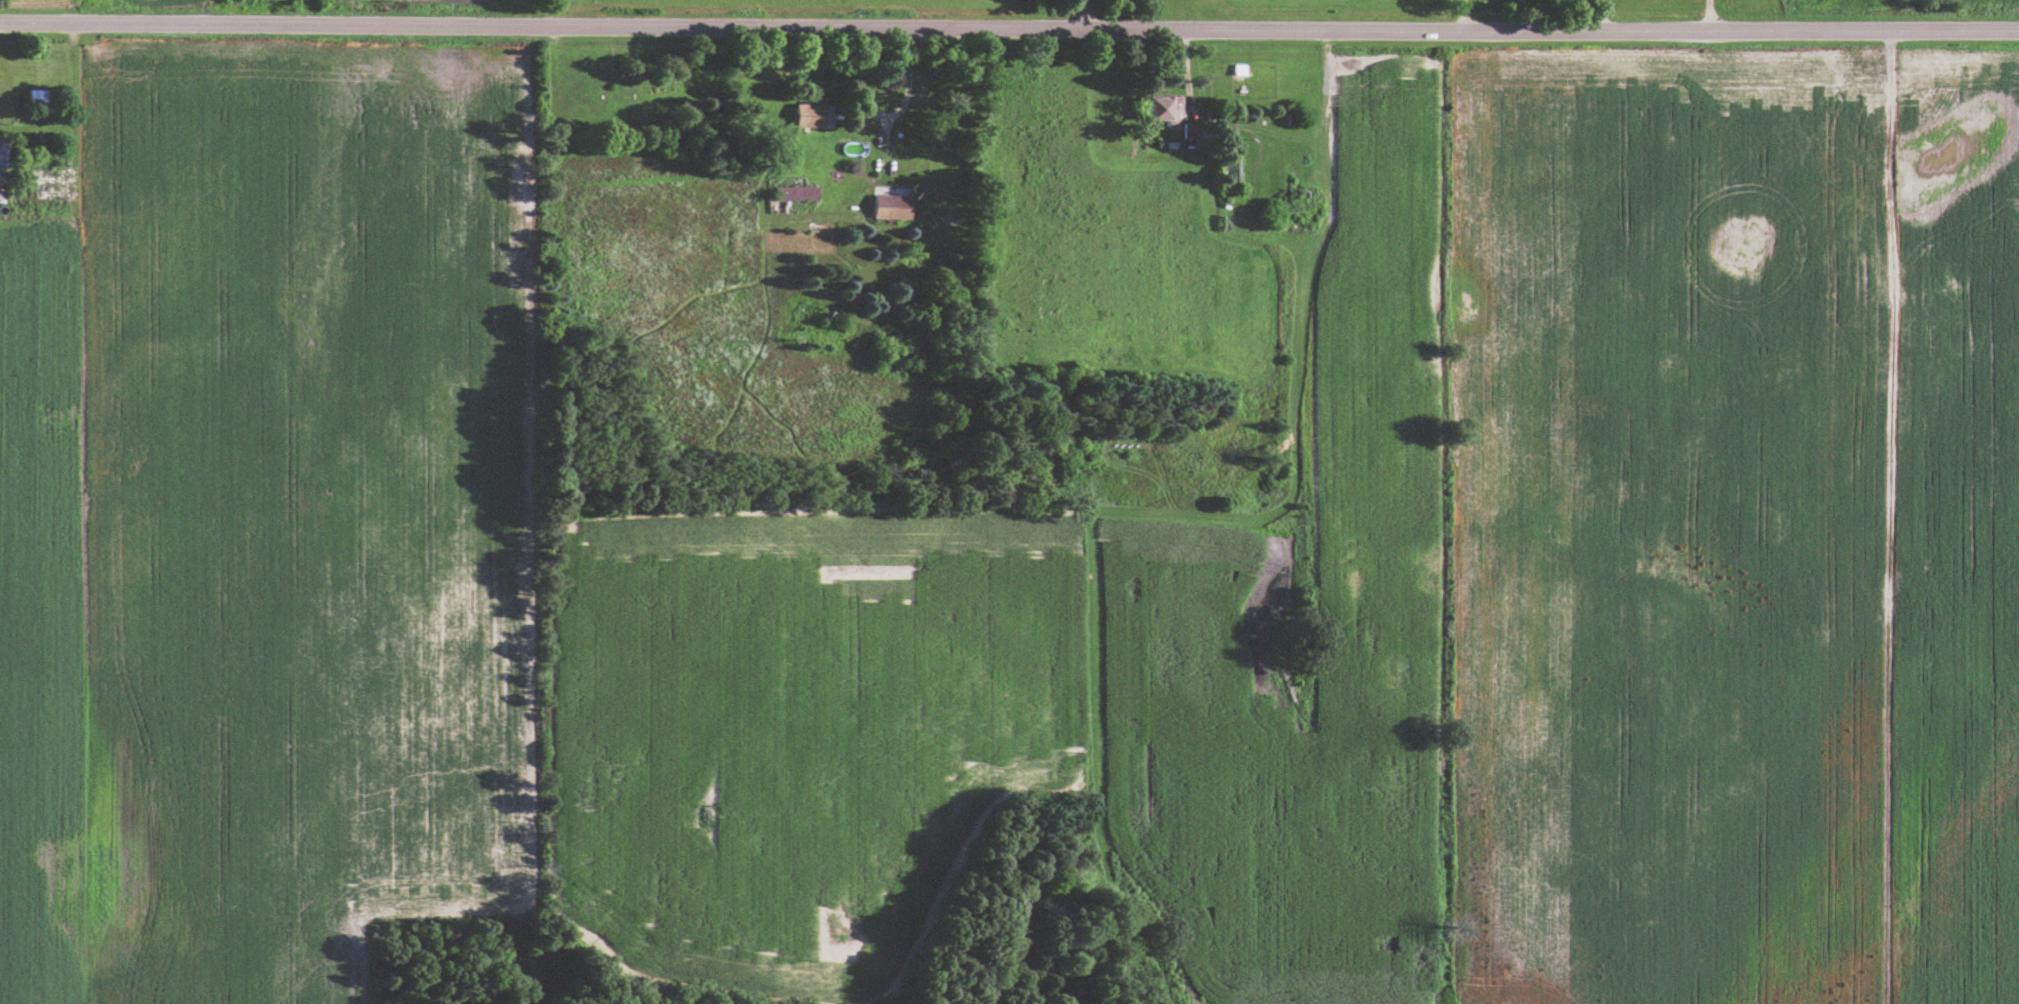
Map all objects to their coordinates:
road: (1081, 17)
road: (1709, 18)
road: (1009, 33)
park: (634, 92)
building: (38, 101)
building: (1161, 113)
road: (881, 116)
building: (809, 118)
building: (4, 156)
building: (1228, 177)
building: (786, 197)
building: (891, 210)
road: (1892, 319)

